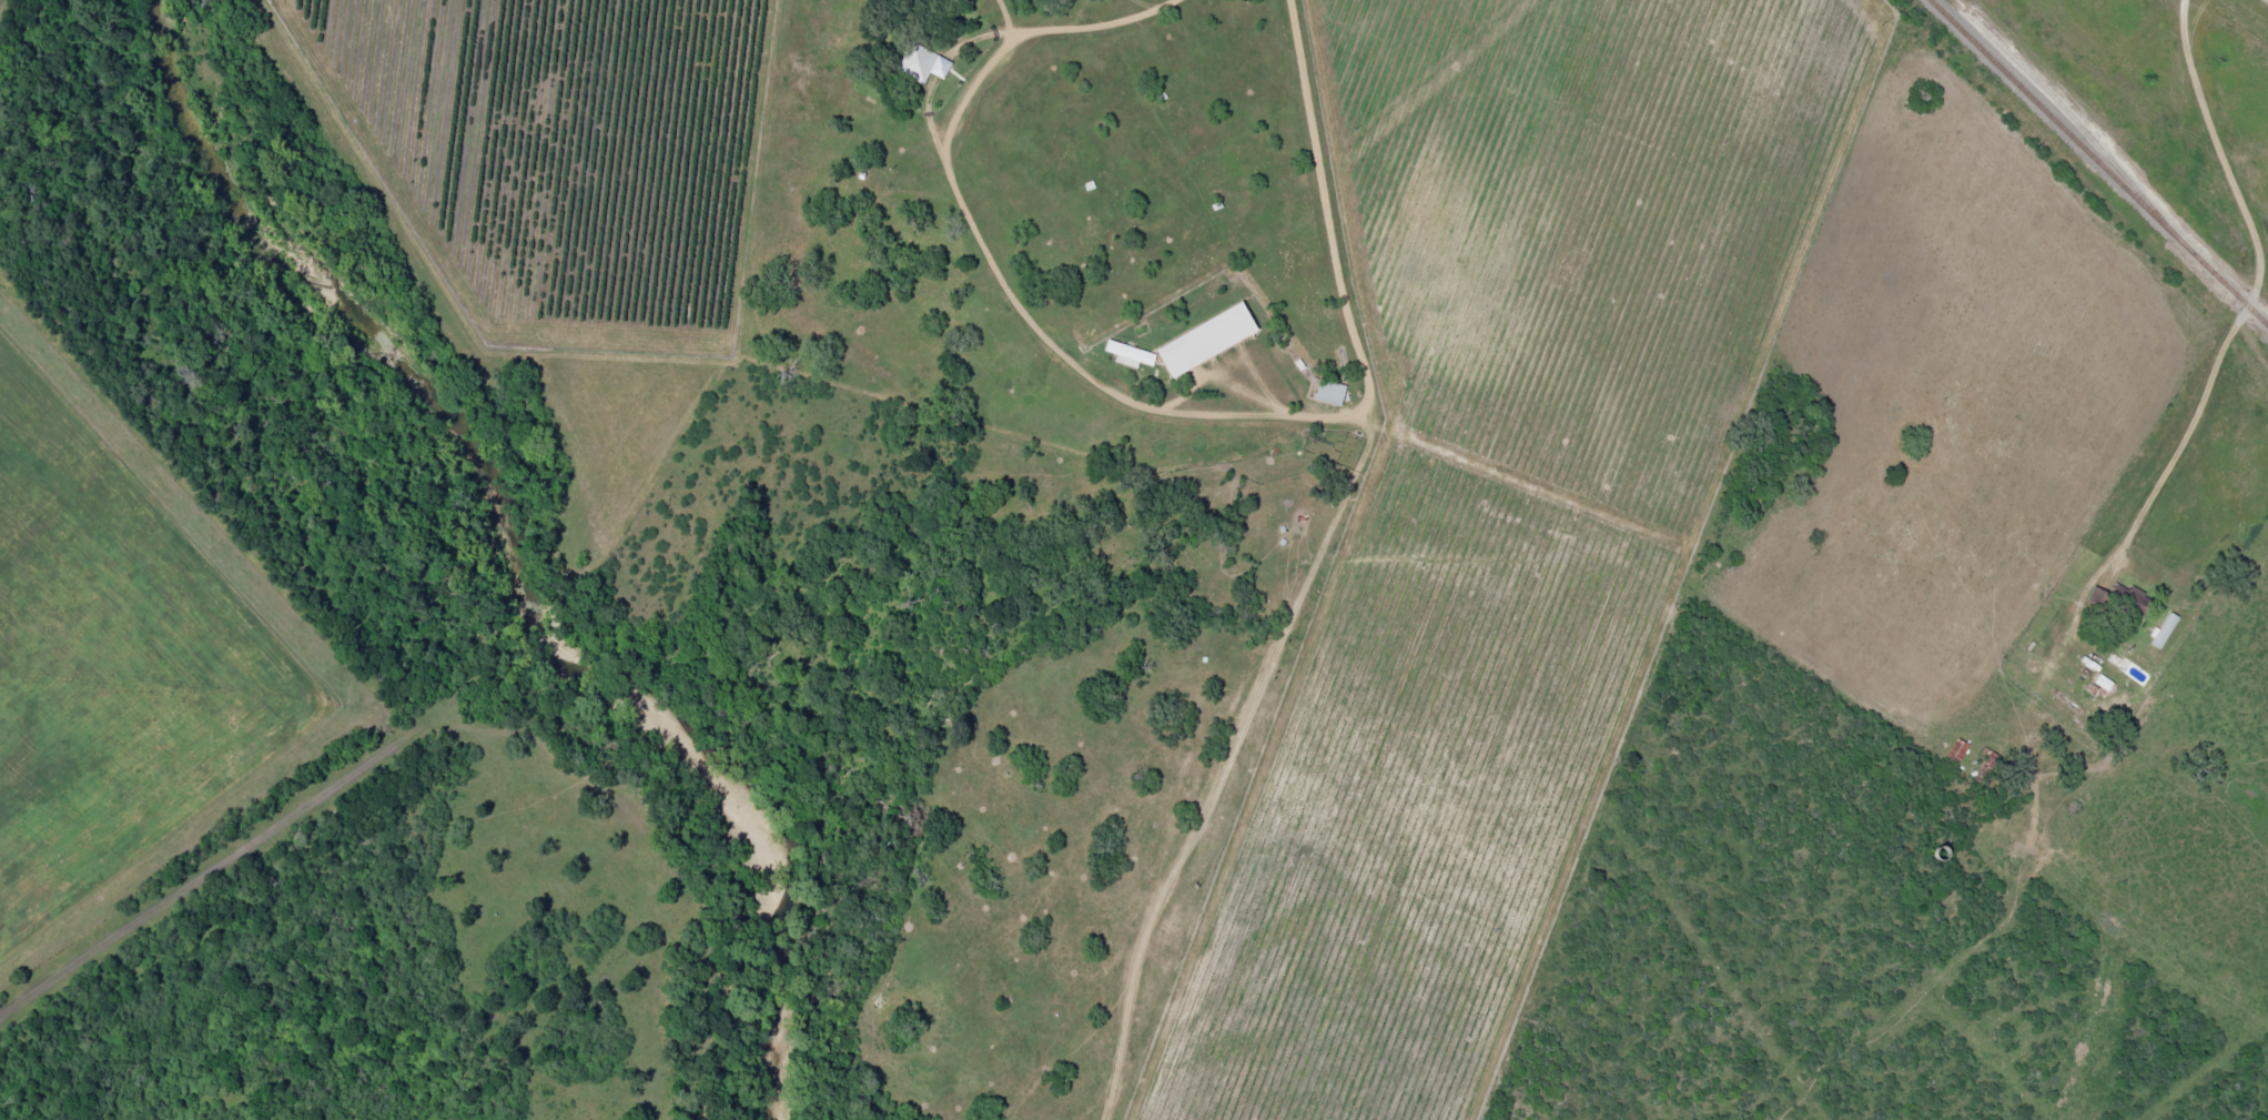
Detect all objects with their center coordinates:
building: (923, 64)
railway: (2098, 163)
building: (1204, 340)
building: (1127, 354)
building: (1328, 391)
road: (1305, 559)
road: (2119, 575)
building: (2135, 601)
building: (2161, 630)
building: (2103, 682)

